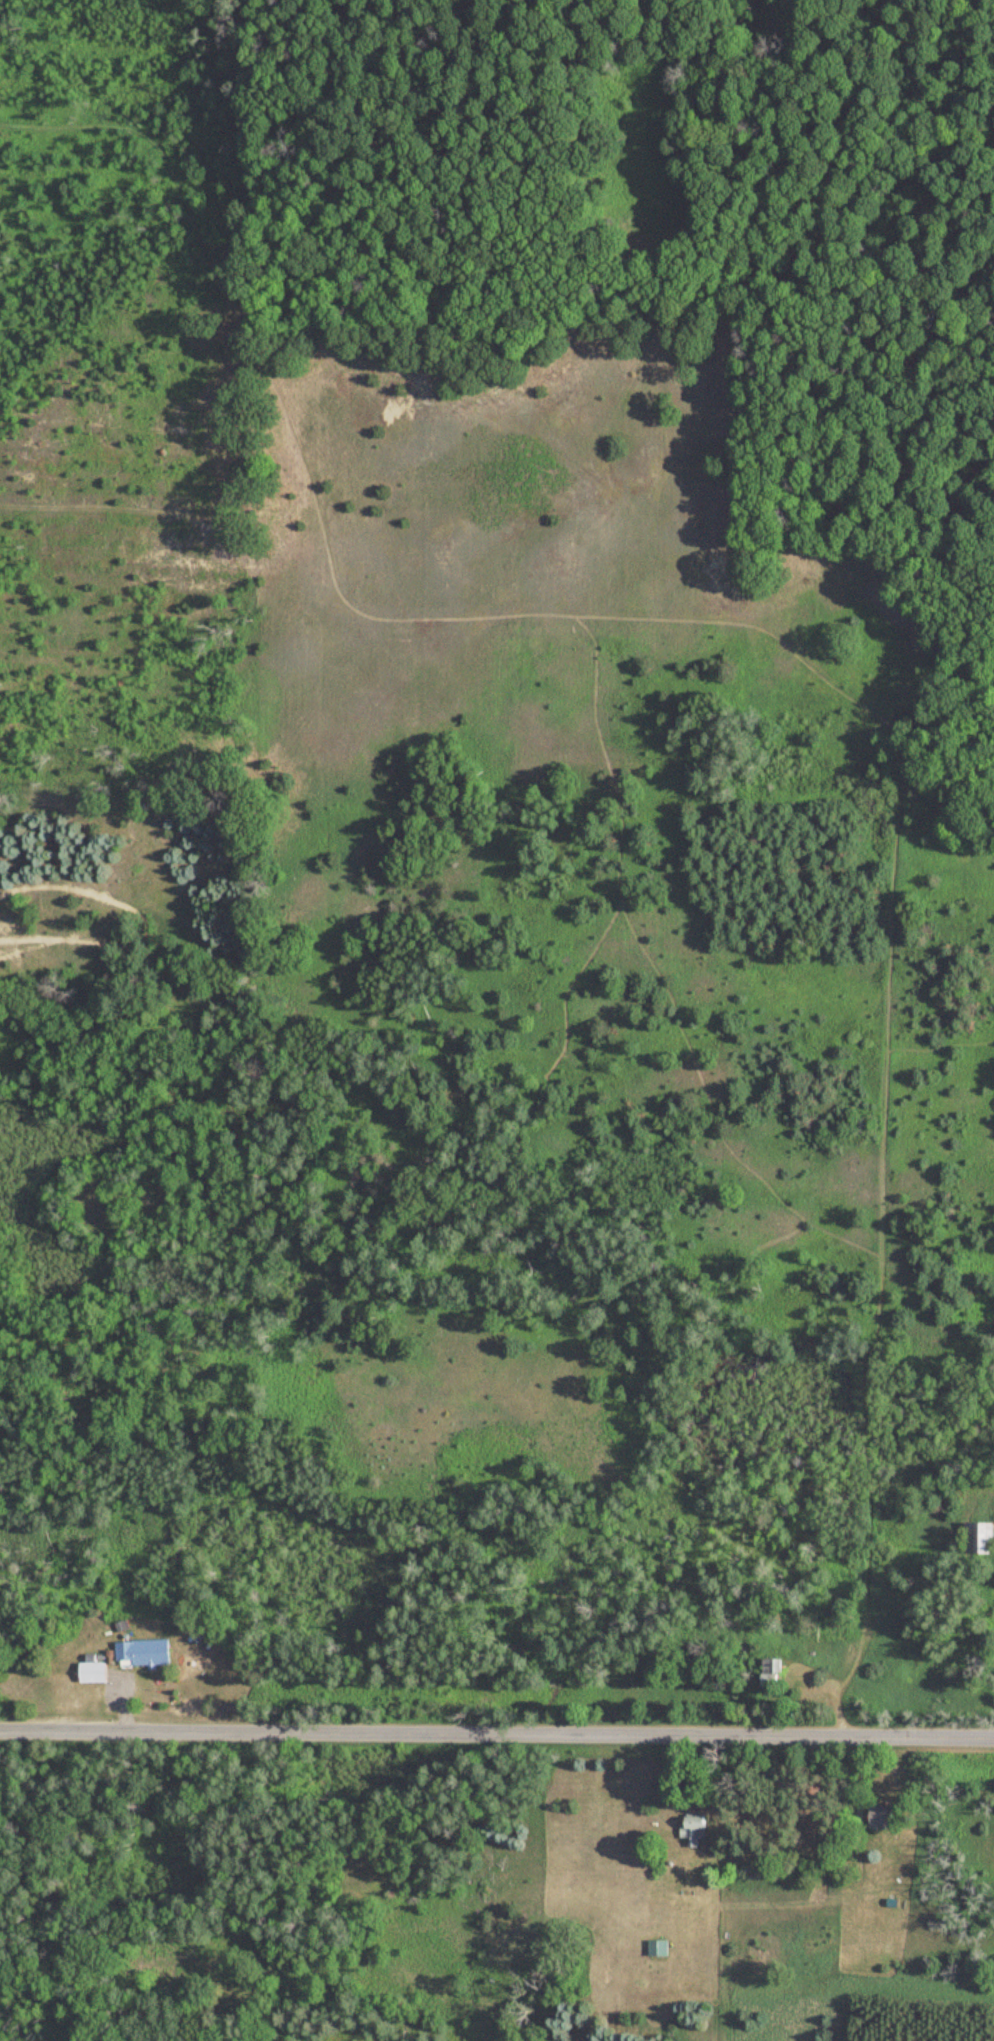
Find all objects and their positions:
building: (980, 1538)
building: (144, 1652)
building: (93, 1671)
building: (773, 1672)
road: (497, 1734)
building: (882, 1816)
building: (694, 1829)
building: (659, 1949)

